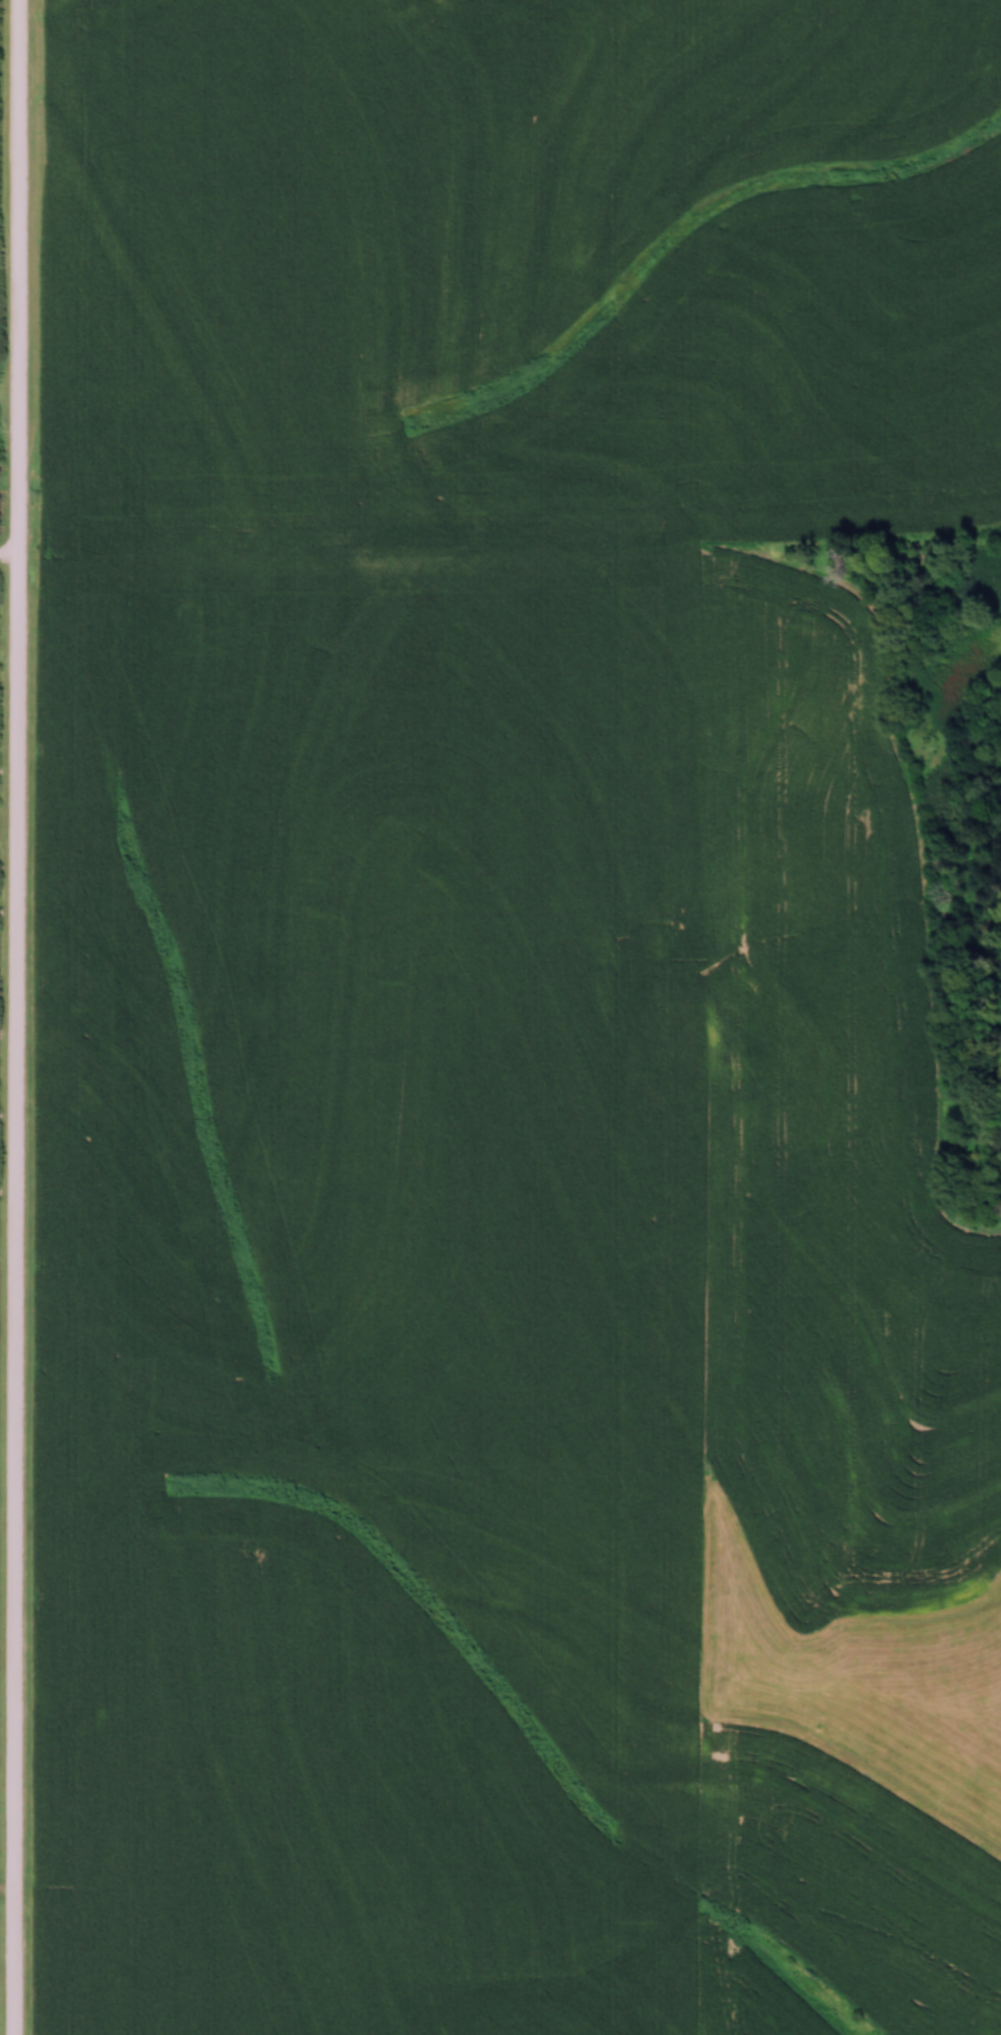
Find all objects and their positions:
road: (9, 555)
road: (16, 1017)

